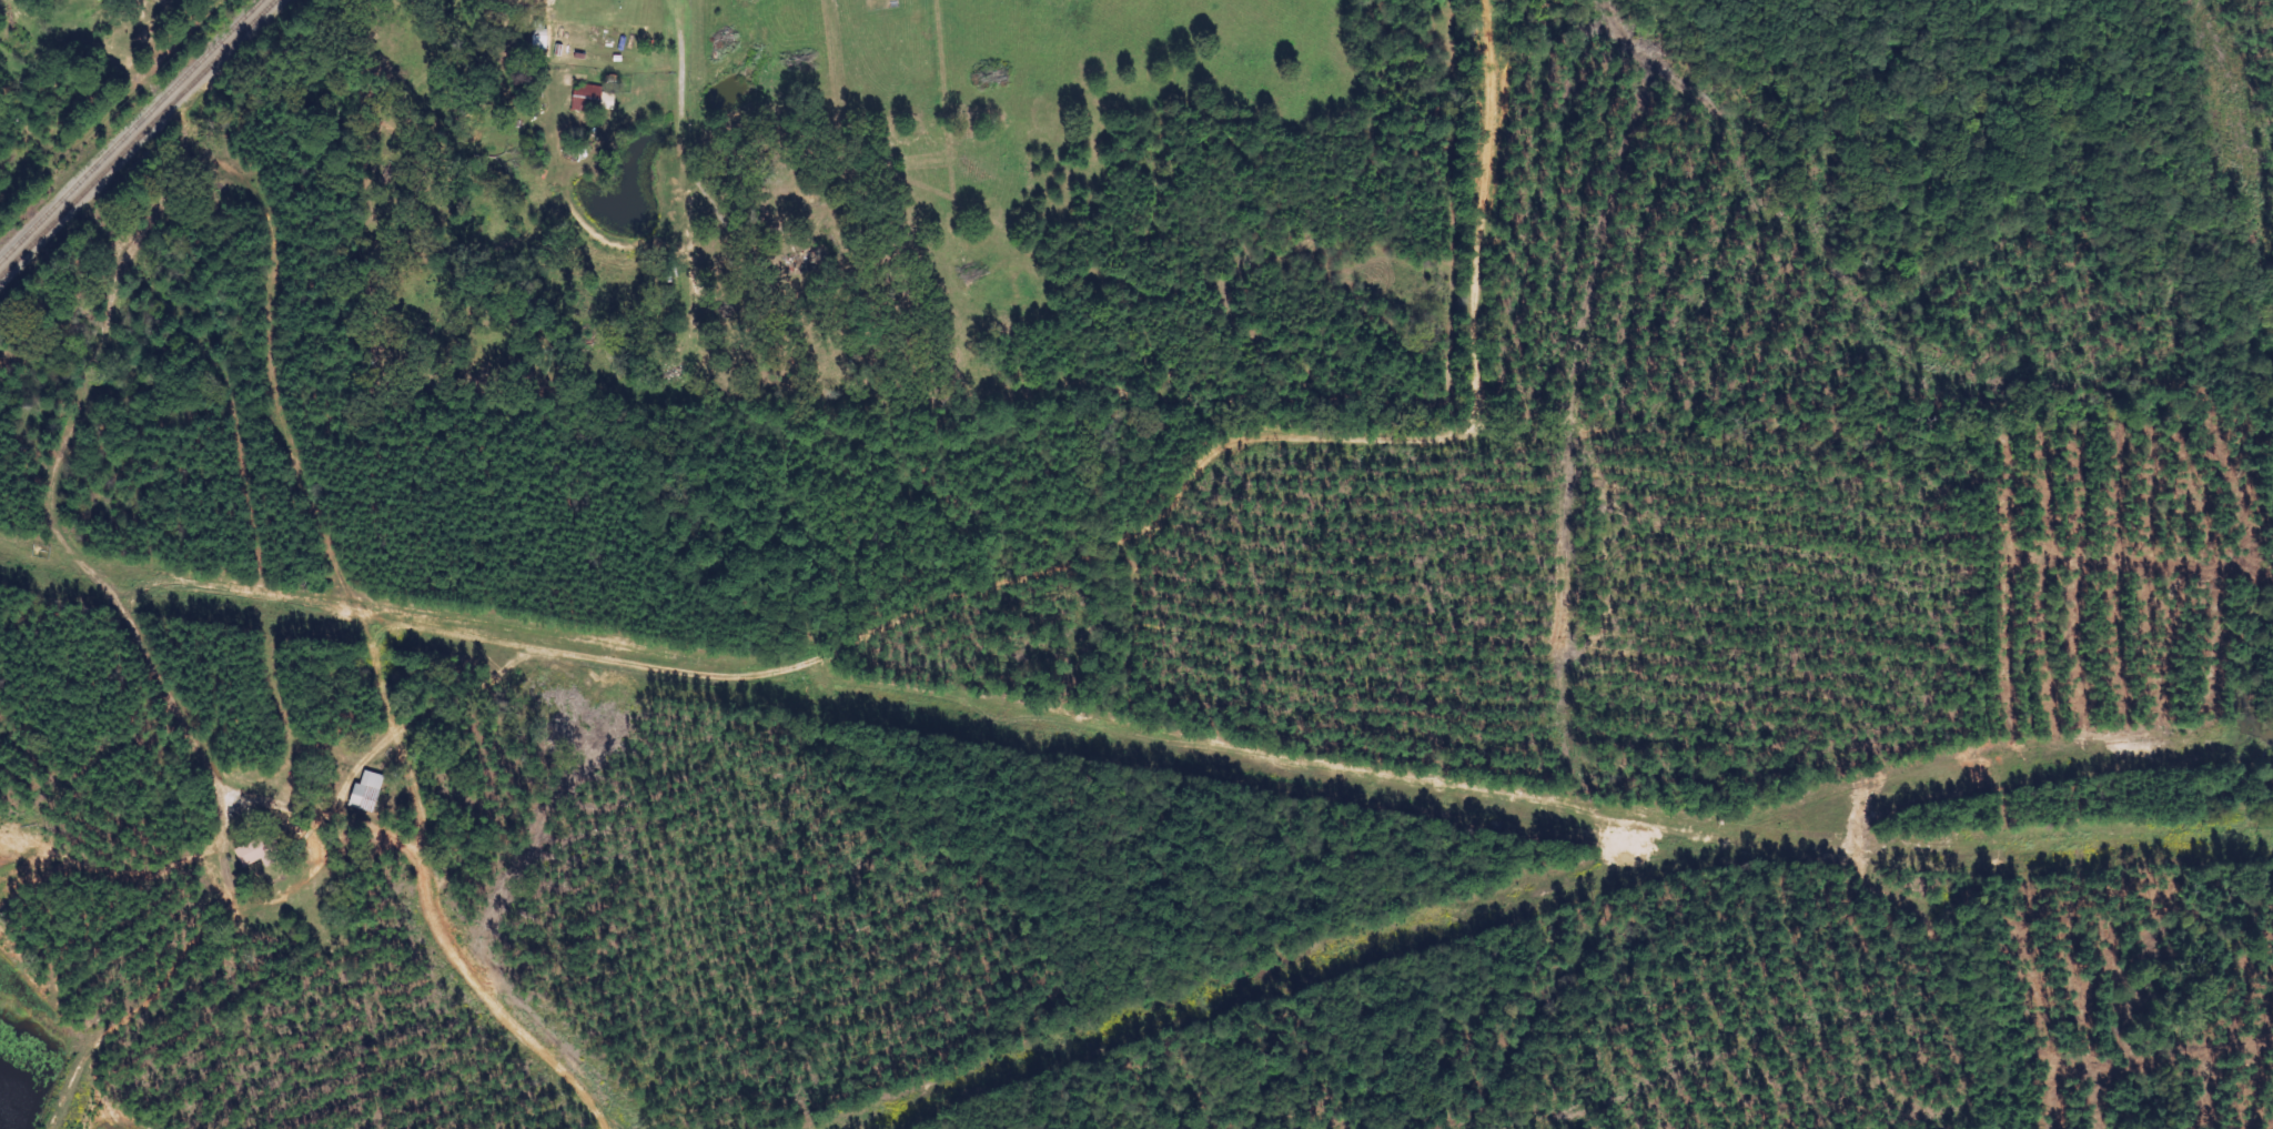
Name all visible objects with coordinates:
building: (538, 36)
railway: (130, 130)
railway: (138, 137)
building: (363, 793)

